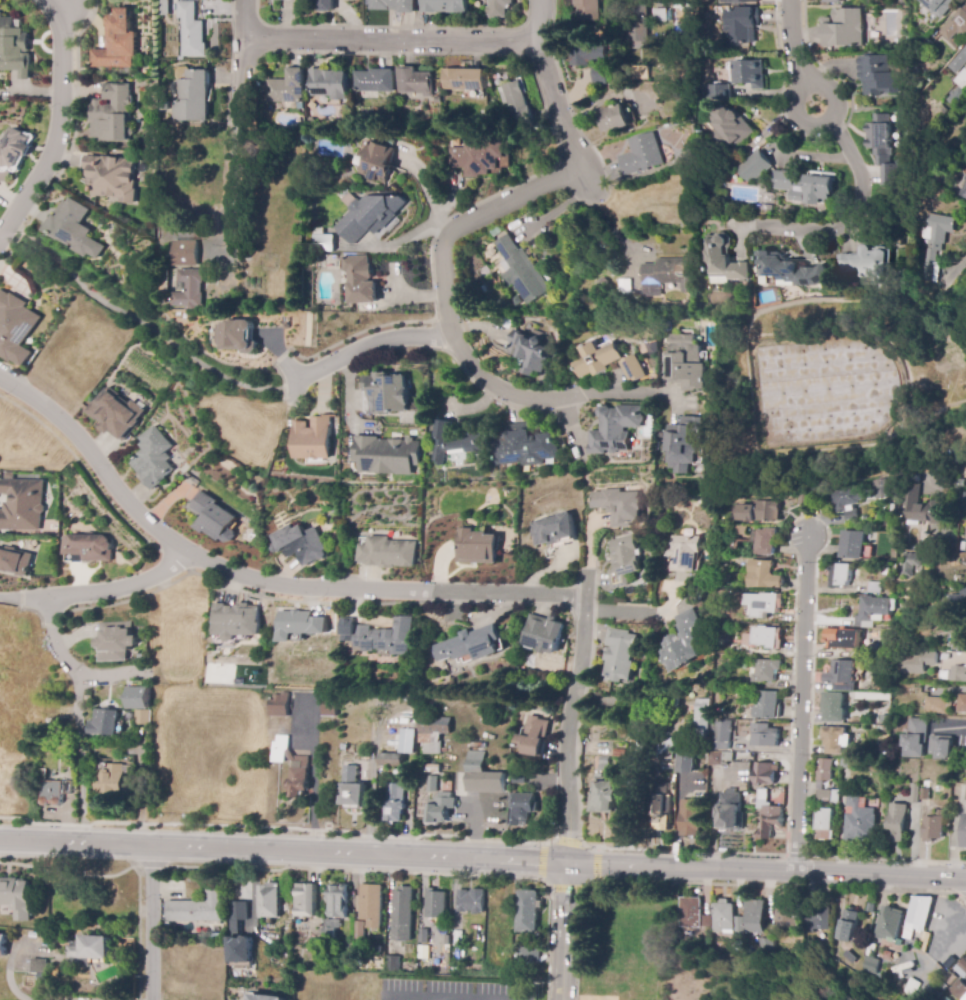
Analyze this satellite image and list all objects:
building: (843, 0)
building: (737, 1)
building: (832, 2)
building: (325, 4)
building: (500, 4)
building: (394, 5)
building: (444, 6)
building: (940, 6)
building: (165, 8)
building: (586, 10)
building: (659, 15)
building: (637, 23)
building: (741, 26)
building: (956, 26)
building: (844, 29)
building: (191, 31)
road: (392, 41)
road: (795, 41)
building: (117, 44)
building: (13, 46)
building: (925, 48)
building: (591, 60)
building: (959, 61)
building: (640, 73)
building: (749, 74)
building: (879, 76)
building: (464, 79)
building: (415, 82)
building: (373, 84)
building: (963, 84)
building: (326, 85)
building: (286, 87)
building: (721, 93)
building: (192, 97)
building: (438, 100)
building: (517, 107)
road: (792, 112)
building: (112, 113)
building: (615, 119)
road: (55, 121)
building: (729, 129)
road: (234, 140)
building: (884, 148)
building: (13, 151)
building: (642, 154)
building: (478, 157)
building: (377, 162)
building: (754, 167)
building: (111, 177)
building: (805, 187)
building: (963, 191)
building: (721, 197)
building: (764, 207)
road: (857, 214)
building: (368, 215)
road: (602, 218)
road: (450, 229)
building: (74, 231)
building: (934, 242)
building: (320, 243)
building: (184, 251)
building: (324, 258)
building: (724, 259)
building: (868, 263)
building: (488, 270)
building: (791, 270)
building: (519, 273)
building: (667, 276)
building: (163, 278)
building: (360, 280)
building: (189, 290)
building: (14, 326)
building: (235, 333)
road: (372, 349)
building: (529, 352)
building: (597, 359)
building: (686, 363)
building: (634, 369)
park: (952, 372)
building: (385, 395)
building: (115, 410)
building: (615, 429)
building: (311, 437)
building: (454, 443)
building: (684, 444)
building: (523, 447)
building: (386, 454)
building: (153, 459)
building: (795, 473)
building: (880, 489)
building: (802, 498)
building: (963, 500)
building: (846, 502)
building: (21, 505)
building: (620, 507)
building: (921, 507)
building: (892, 510)
building: (759, 512)
building: (214, 519)
building: (888, 522)
building: (559, 526)
building: (739, 530)
building: (764, 542)
building: (300, 543)
building: (853, 545)
building: (734, 546)
building: (963, 546)
building: (89, 547)
building: (478, 547)
building: (386, 553)
building: (683, 553)
building: (869, 553)
building: (937, 556)
building: (624, 561)
building: (911, 561)
building: (15, 562)
building: (886, 571)
building: (724, 575)
building: (763, 575)
building: (840, 575)
road: (256, 577)
building: (892, 577)
building: (957, 578)
road: (120, 587)
building: (874, 587)
building: (942, 589)
road: (26, 598)
building: (958, 602)
building: (764, 603)
building: (873, 611)
road: (643, 613)
building: (236, 623)
building: (298, 624)
building: (544, 634)
building: (720, 634)
building: (380, 637)
building: (767, 637)
road: (59, 639)
building: (114, 639)
building: (843, 639)
building: (682, 642)
building: (959, 643)
building: (471, 645)
building: (620, 655)
building: (917, 663)
building: (766, 670)
building: (959, 674)
building: (842, 676)
building: (675, 698)
building: (88, 699)
building: (140, 704)
building: (330, 704)
building: (962, 704)
building: (279, 705)
building: (767, 705)
building: (936, 705)
road: (800, 707)
building: (833, 707)
building: (702, 714)
road: (571, 717)
building: (103, 720)
road: (952, 724)
building: (433, 733)
building: (723, 735)
building: (765, 735)
building: (534, 737)
building: (605, 737)
building: (917, 737)
building: (836, 740)
building: (406, 743)
building: (942, 747)
building: (666, 748)
building: (620, 753)
building: (715, 758)
building: (425, 759)
building: (434, 760)
building: (390, 762)
building: (604, 763)
building: (844, 763)
building: (300, 765)
building: (687, 766)
building: (71, 769)
building: (433, 769)
building: (824, 770)
building: (41, 774)
building: (764, 774)
building: (483, 776)
building: (519, 777)
building: (110, 782)
building: (432, 784)
building: (926, 787)
building: (53, 792)
building: (353, 793)
building: (914, 793)
building: (604, 795)
building: (828, 796)
building: (394, 803)
building: (441, 808)
building: (522, 809)
building: (730, 811)
building: (660, 813)
building: (767, 814)
building: (690, 818)
building: (859, 820)
building: (897, 822)
building: (824, 824)
road: (276, 828)
building: (933, 828)
building: (964, 832)
road: (568, 842)
road: (590, 846)
road: (283, 852)
road: (541, 861)
traffic signals: (566, 864)
road: (596, 865)
road: (152, 866)
road: (680, 869)
road: (416, 872)
road: (69, 874)
road: (880, 877)
road: (965, 880)
road: (714, 883)
road: (567, 888)
road: (962, 894)
building: (264, 895)
building: (331, 895)
building: (431, 895)
building: (14, 898)
building: (368, 898)
building: (471, 901)
building: (301, 903)
building: (191, 904)
building: (398, 908)
building: (870, 908)
building: (527, 910)
building: (690, 913)
building: (783, 915)
building: (722, 917)
building: (754, 917)
building: (818, 919)
building: (705, 921)
building: (906, 921)
road: (151, 923)
building: (166, 925)
building: (848, 925)
building: (737, 926)
building: (330, 930)
building: (358, 930)
road: (563, 932)
building: (239, 935)
building: (423, 936)
building: (455, 938)
building: (3, 945)
building: (762, 947)
building: (90, 951)
building: (528, 955)
building: (847, 956)
building: (37, 964)
building: (392, 964)
building: (869, 965)
building: (961, 969)
road: (11, 980)
building: (950, 980)
building: (909, 986)
building: (942, 987)
building: (958, 990)
building: (935, 994)
building: (264, 997)
building: (943, 998)

